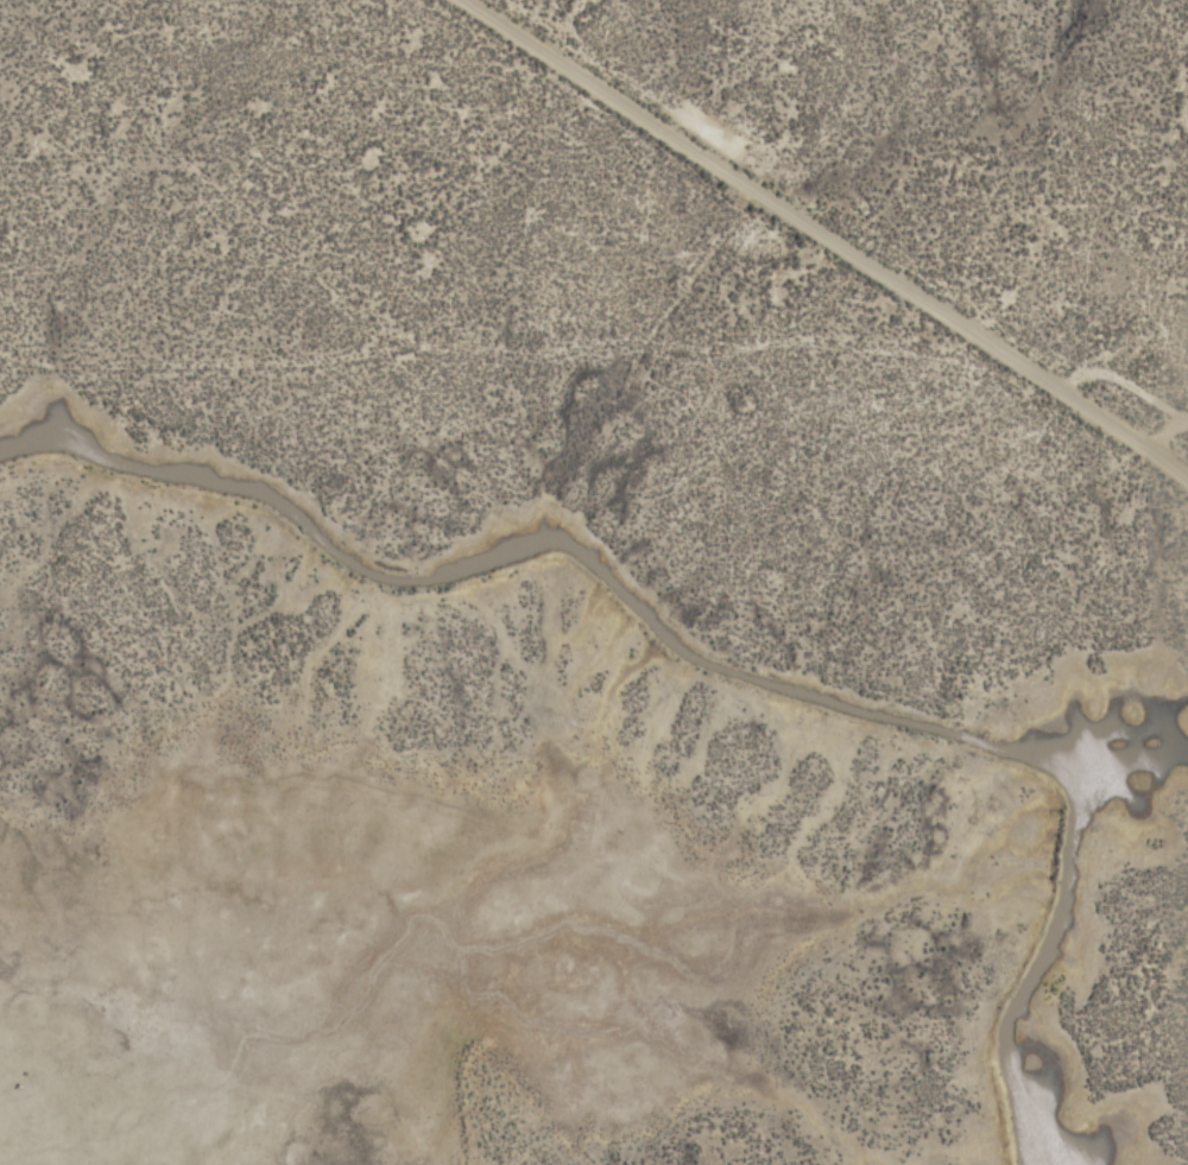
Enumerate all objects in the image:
road: (822, 236)
road: (1127, 380)
road: (1165, 430)

